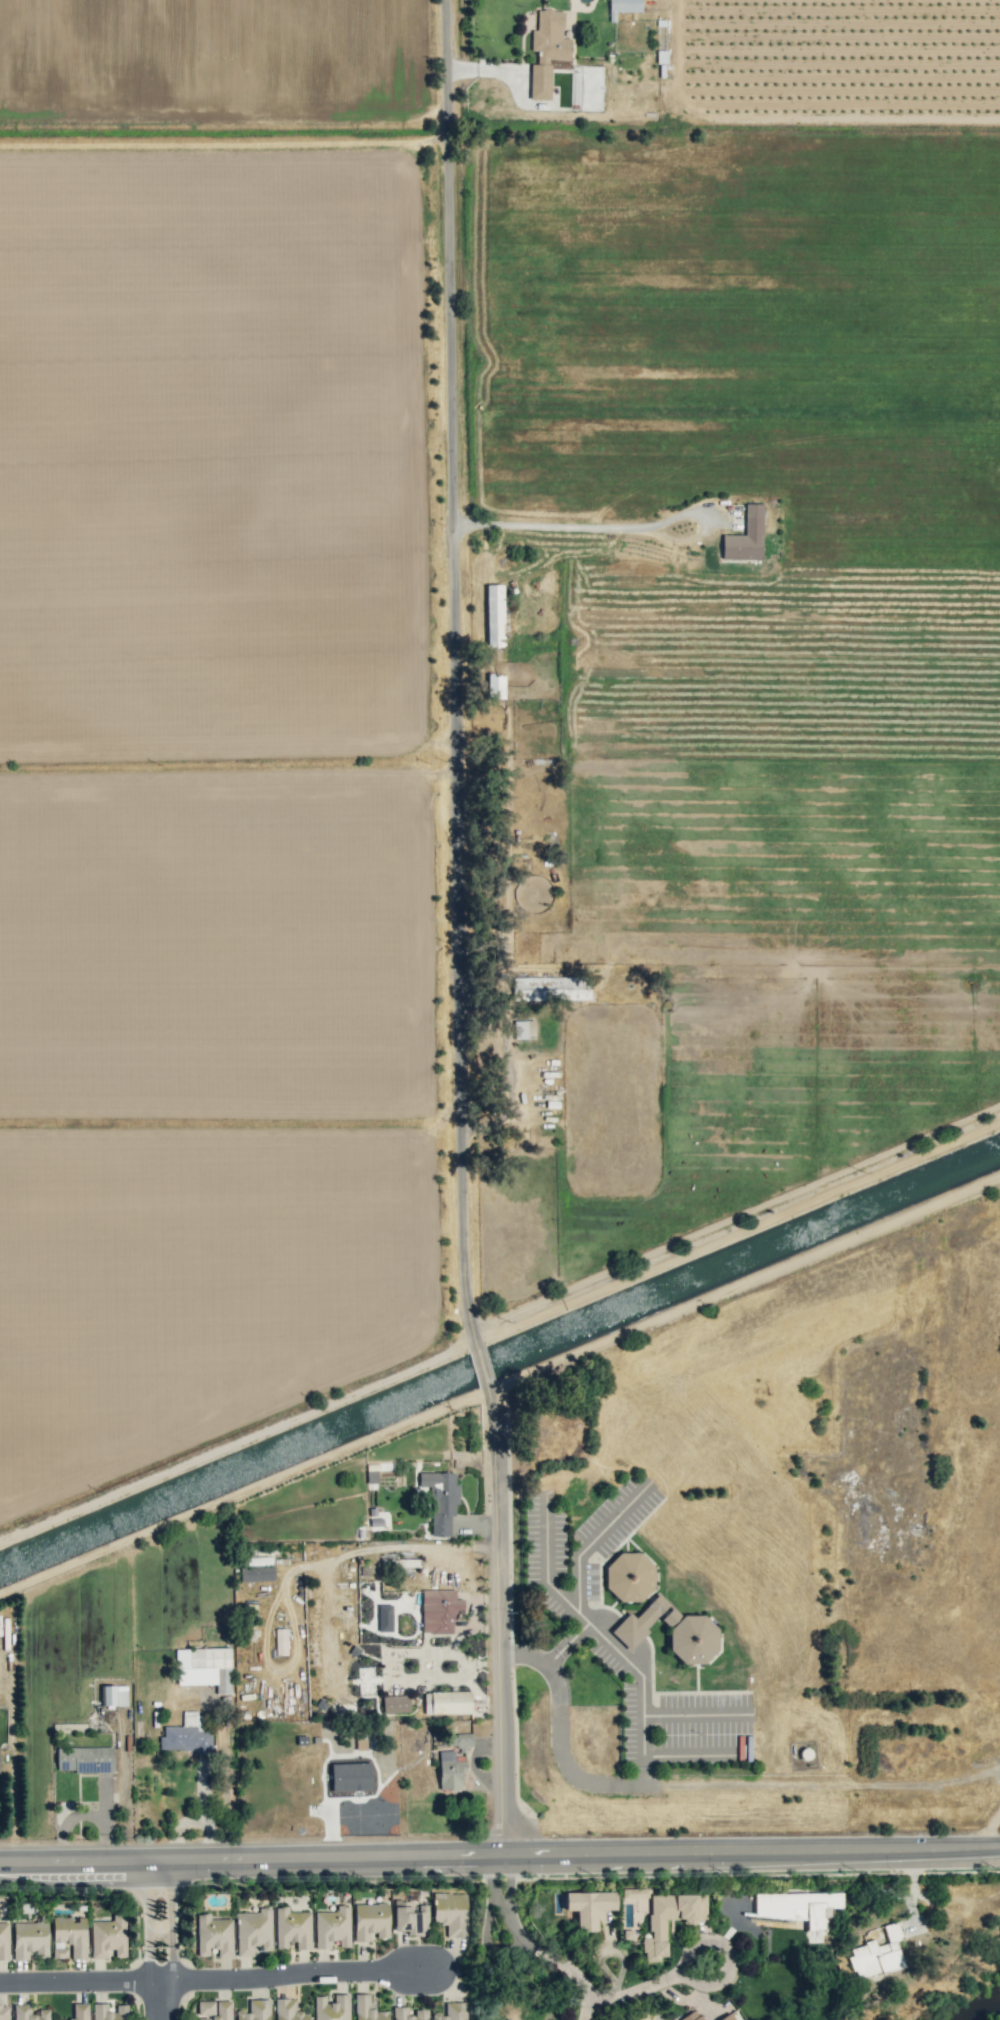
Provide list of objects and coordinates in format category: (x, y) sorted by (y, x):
building: (624, 6)
building: (546, 50)
road: (512, 70)
road: (572, 526)
building: (745, 536)
building: (494, 615)
building: (496, 686)
road: (467, 930)
building: (551, 988)
building: (523, 1029)
building: (441, 1500)
road: (591, 1541)
building: (256, 1569)
road: (293, 1571)
building: (630, 1576)
building: (439, 1610)
road: (470, 1614)
building: (384, 1618)
building: (671, 1631)
road: (602, 1633)
road: (574, 1637)
building: (280, 1641)
road: (552, 1657)
road: (460, 1658)
building: (204, 1667)
building: (366, 1681)
road: (476, 1691)
building: (114, 1695)
building: (447, 1702)
building: (395, 1703)
building: (187, 1735)
road: (561, 1739)
building: (464, 1741)
building: (84, 1759)
building: (450, 1770)
building: (351, 1776)
road: (103, 1797)
road: (85, 1815)
road: (204, 1819)
road: (209, 1837)
road: (500, 1857)
road: (508, 1883)
road: (492, 1885)
building: (589, 1907)
building: (799, 1909)
building: (451, 1912)
building: (662, 1915)
building: (411, 1919)
building: (371, 1920)
building: (333, 1927)
building: (293, 1928)
building: (253, 1931)
building: (71, 1934)
building: (214, 1935)
building: (109, 1937)
road: (156, 1937)
building: (30, 1939)
building: (3, 1940)
road: (689, 1954)
road: (545, 1955)
building: (877, 1955)
road: (219, 1978)
building: (332, 2008)
building: (368, 2009)
road: (583, 2009)
building: (289, 2010)
building: (81, 2011)
building: (221, 2011)
building: (255, 2011)
building: (3, 2012)
building: (109, 2012)
building: (401, 2012)
building: (453, 2012)
building: (29, 2013)
building: (691, 2016)
building: (727, 2017)
building: (60, 2019)

